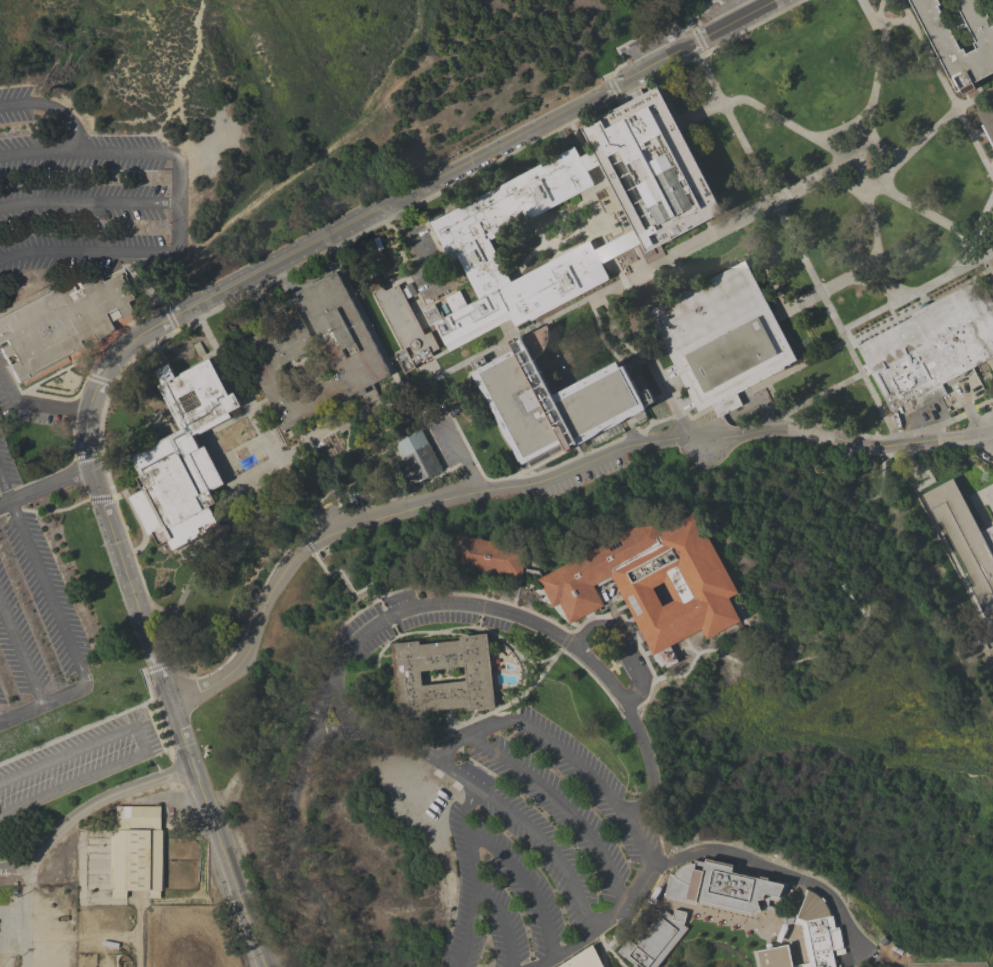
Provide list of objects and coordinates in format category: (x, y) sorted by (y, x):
parking lot: (719, 8)
road: (684, 14)
road: (667, 17)
street lamp: (900, 18)
road: (874, 20)
road: (882, 23)
road: (656, 32)
road: (959, 32)
street lamp: (683, 34)
road: (698, 39)
parking lot: (651, 42)
building: (945, 45)
parking lot: (632, 53)
street lamp: (629, 62)
street lamp: (873, 68)
road: (183, 80)
road: (612, 86)
road: (659, 86)
road: (946, 88)
road: (396, 90)
street lamp: (709, 93)
road: (638, 94)
road: (873, 97)
road: (645, 101)
street lamp: (948, 103)
road: (659, 108)
road: (51, 110)
road: (658, 113)
road: (767, 113)
road: (656, 117)
road: (654, 121)
building: (987, 122)
road: (668, 127)
road: (931, 131)
street lamp: (94, 132)
road: (608, 133)
street lamp: (732, 134)
street lamp: (12, 135)
road: (607, 138)
road: (638, 138)
road: (870, 140)
road: (605, 142)
road: (603, 145)
road: (887, 149)
road: (86, 152)
road: (604, 152)
road: (585, 153)
road: (604, 157)
street lamp: (856, 158)
road: (589, 160)
road: (591, 164)
building: (652, 170)
street lamp: (50, 174)
street lamp: (128, 174)
street lamp: (869, 175)
road: (859, 177)
street lamp: (757, 182)
road: (841, 186)
street lamp: (989, 189)
road: (271, 192)
parking lot: (86, 194)
road: (703, 196)
road: (520, 197)
road: (520, 201)
road: (702, 201)
road: (176, 202)
road: (87, 205)
road: (700, 206)
road: (445, 210)
road: (449, 210)
road: (619, 211)
road: (569, 212)
road: (981, 214)
road: (703, 216)
road: (935, 216)
street lamp: (87, 222)
street lamp: (169, 224)
street lamp: (780, 224)
road: (543, 225)
road: (582, 225)
road: (99, 227)
road: (708, 229)
road: (644, 231)
road: (644, 236)
road: (649, 237)
road: (392, 239)
road: (601, 239)
parking lot: (422, 240)
road: (587, 241)
road: (699, 241)
road: (434, 242)
road: (560, 242)
road: (338, 244)
street lamp: (988, 244)
road: (413, 245)
road: (616, 245)
road: (796, 245)
building: (466, 247)
road: (618, 248)
road: (369, 249)
road: (567, 249)
road: (398, 251)
road: (87, 253)
street lamp: (796, 255)
road: (558, 256)
road: (556, 257)
road: (554, 258)
street lamp: (873, 258)
road: (125, 259)
road: (593, 259)
road: (670, 259)
road: (675, 259)
road: (862, 261)
road: (394, 263)
road: (475, 263)
road: (474, 265)
road: (987, 268)
road: (395, 274)
road: (477, 274)
road: (982, 274)
road: (679, 276)
road: (313, 277)
road: (396, 282)
road: (547, 282)
road: (837, 284)
road: (547, 285)
road: (690, 287)
street lamp: (812, 288)
road: (916, 292)
road: (945, 293)
street lamp: (356, 295)
road: (158, 300)
road: (583, 300)
road: (258, 304)
road: (891, 313)
street lamp: (826, 314)
building: (899, 315)
road: (169, 317)
road: (306, 319)
road: (365, 321)
building: (61, 322)
road: (154, 326)
road: (507, 326)
street lamp: (372, 327)
building: (404, 328)
road: (600, 333)
road: (618, 333)
street lamp: (838, 336)
road: (517, 337)
building: (721, 338)
street lamp: (206, 341)
road: (458, 343)
road: (837, 344)
building: (930, 346)
street lamp: (503, 347)
street lamp: (637, 351)
road: (71, 355)
road: (155, 356)
building: (355, 356)
road: (473, 356)
road: (647, 356)
street lamp: (851, 360)
street lamp: (391, 364)
road: (474, 364)
road: (474, 366)
road: (41, 379)
road: (98, 379)
road: (765, 381)
street lamp: (651, 383)
street lamp: (864, 385)
parking lot: (972, 385)
road: (80, 386)
road: (238, 388)
road: (466, 388)
parking lot: (675, 389)
road: (546, 393)
parking lot: (752, 397)
road: (266, 398)
road: (656, 399)
road: (774, 399)
building: (551, 400)
parking lot: (3, 403)
road: (378, 403)
road: (647, 403)
road: (36, 405)
road: (965, 409)
road: (72, 410)
street lamp: (880, 416)
road: (663, 418)
road: (768, 418)
parking lot: (43, 419)
road: (675, 420)
road: (647, 425)
road: (401, 426)
street lamp: (962, 428)
road: (840, 430)
road: (164, 433)
street lamp: (624, 433)
street lamp: (215, 434)
road: (678, 435)
road: (318, 438)
road: (397, 439)
parking lot: (447, 441)
road: (897, 444)
road: (345, 447)
street lamp: (676, 447)
road: (940, 447)
road: (435, 448)
street lamp: (281, 450)
road: (576, 451)
road: (692, 451)
street lamp: (224, 452)
road: (870, 453)
parking lot: (697, 454)
building: (418, 456)
road: (461, 456)
road: (86, 457)
road: (902, 457)
building: (182, 458)
road: (217, 460)
road: (465, 460)
road: (536, 464)
road: (843, 466)
road: (56, 470)
road: (389, 472)
road: (351, 473)
street lamp: (235, 475)
road: (302, 475)
road: (520, 475)
street lamp: (522, 476)
parking lot: (573, 477)
street lamp: (487, 478)
road: (540, 479)
road: (283, 481)
road: (363, 484)
road: (44, 485)
road: (355, 490)
street lamp: (243, 491)
street lamp: (84, 493)
road: (983, 496)
road: (99, 498)
road: (308, 505)
parking lot: (990, 506)
road: (9, 510)
road: (53, 510)
road: (274, 514)
road: (134, 518)
parking lot: (321, 518)
building: (992, 522)
road: (297, 532)
road: (300, 538)
building: (965, 539)
road: (226, 544)
road: (306, 545)
street lamp: (102, 547)
building: (488, 556)
road: (954, 562)
road: (41, 581)
building: (652, 581)
road: (469, 594)
street lamp: (121, 601)
road: (513, 601)
road: (936, 605)
road: (857, 608)
road: (387, 616)
road: (850, 617)
parking lot: (34, 618)
road: (375, 624)
road: (463, 627)
road: (164, 638)
road: (564, 640)
road: (621, 643)
road: (761, 643)
road: (20, 654)
road: (646, 663)
road: (156, 667)
building: (407, 676)
road: (593, 679)
road: (41, 701)
street lamp: (155, 703)
road: (496, 708)
road: (507, 711)
road: (627, 712)
road: (88, 726)
road: (470, 733)
road: (831, 738)
road: (453, 741)
road: (399, 742)
road: (142, 746)
street lamp: (173, 757)
road: (472, 761)
parking lot: (76, 762)
road: (592, 780)
road: (100, 799)
road: (561, 804)
road: (642, 804)
building: (138, 817)
street lamp: (204, 836)
road: (468, 841)
parking lot: (540, 849)
building: (136, 862)
road: (14, 867)
road: (771, 868)
street lamp: (18, 877)
road: (567, 877)
road: (525, 883)
building: (721, 887)
road: (622, 900)
road: (26, 915)
building: (782, 917)
road: (743, 920)
road: (502, 925)
road: (467, 931)
building: (808, 936)
building: (655, 940)
road: (606, 947)
street lamp: (249, 959)
building: (582, 959)

